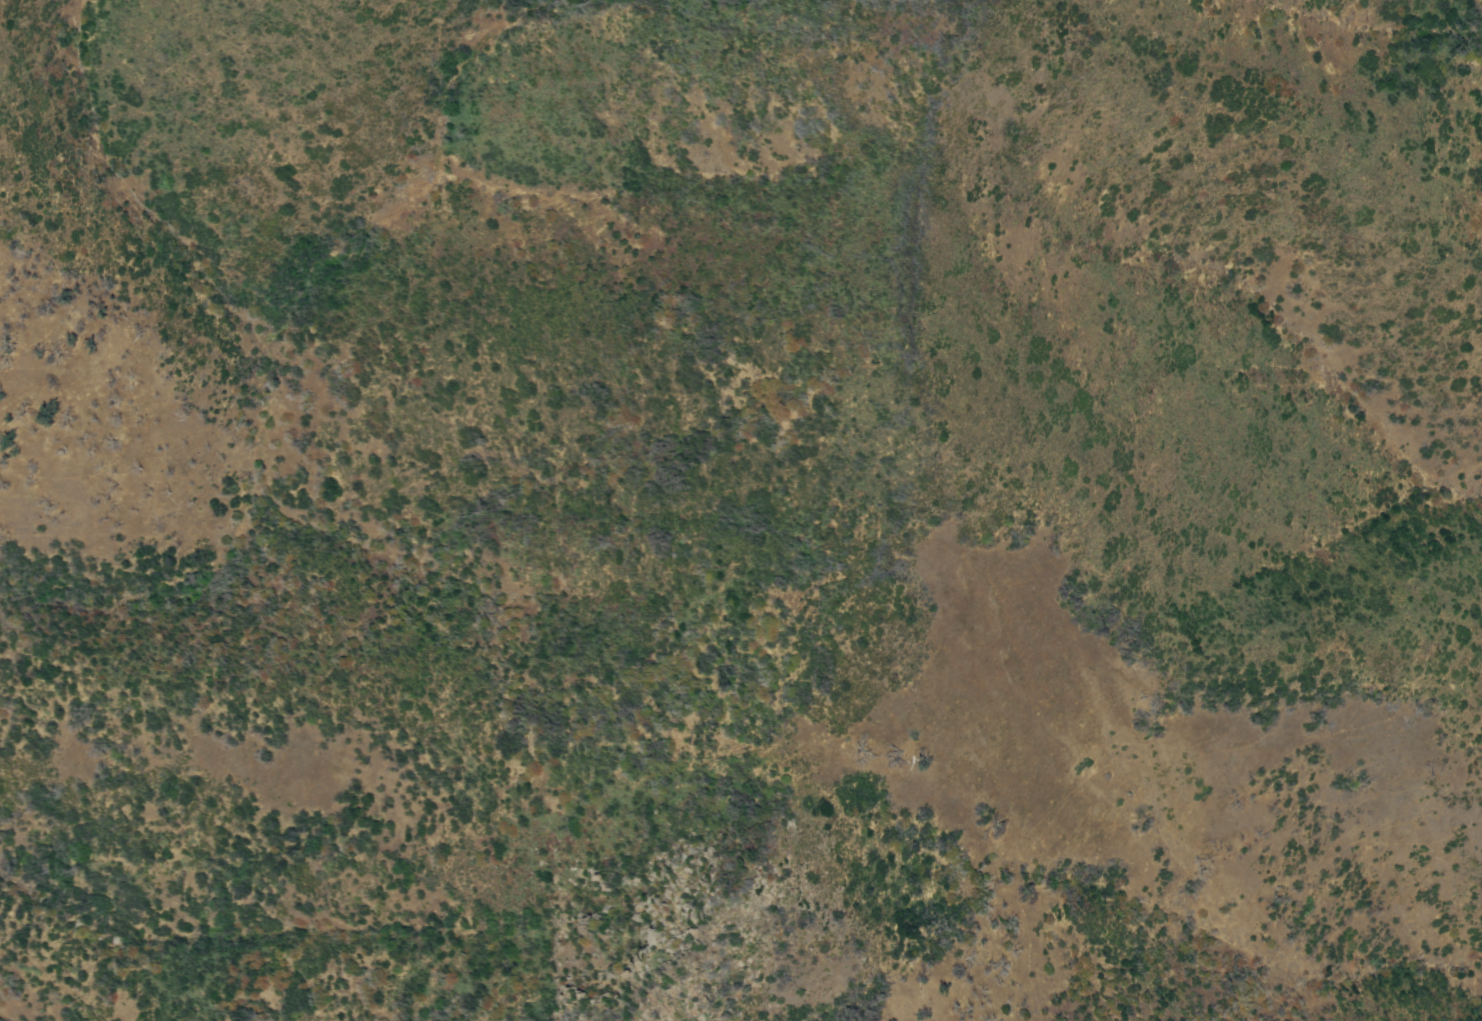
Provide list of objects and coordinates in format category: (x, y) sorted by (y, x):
road: (4, 336)

